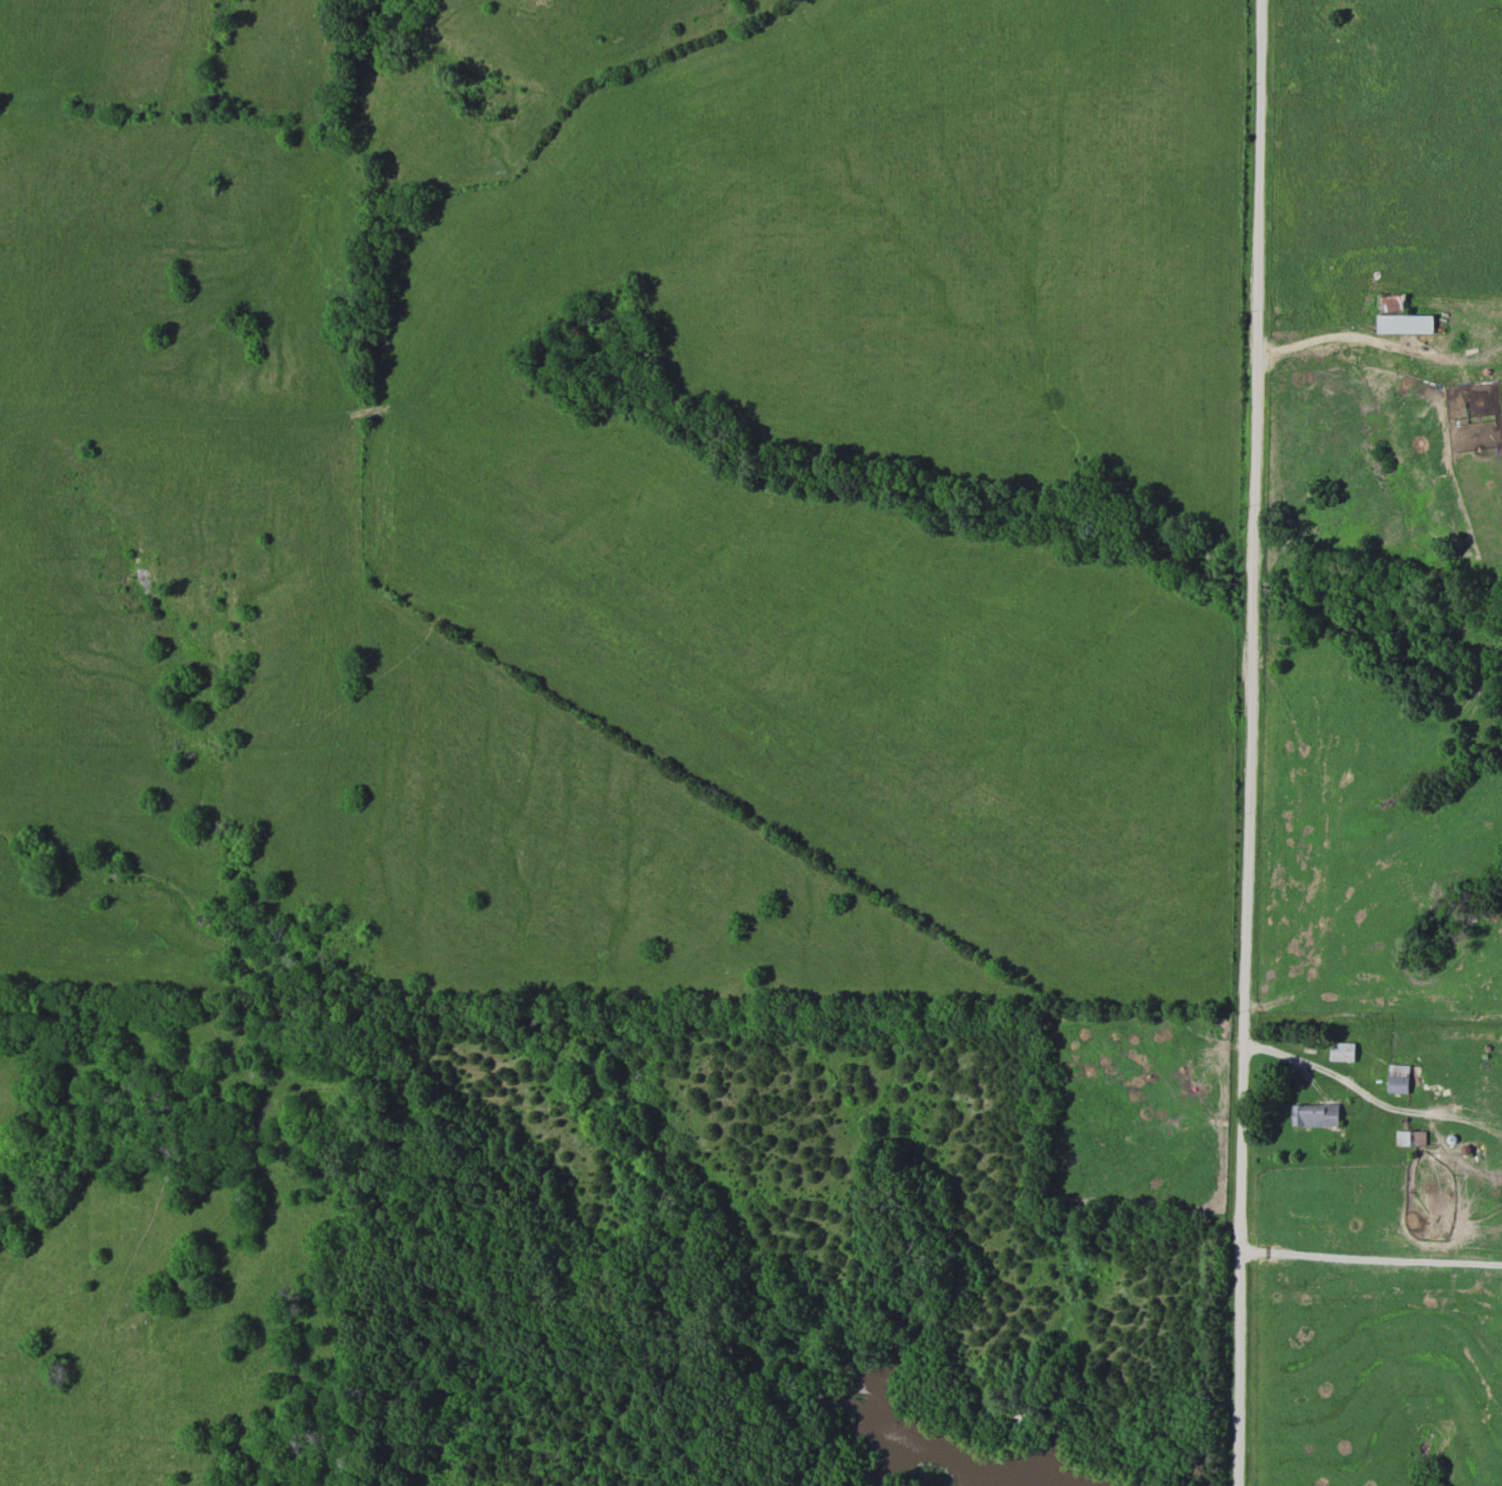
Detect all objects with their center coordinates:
road: (1324, 102)
road: (1314, 247)
building: (1400, 317)
road: (1254, 743)
building: (1343, 1052)
building: (1400, 1079)
road: (1345, 1087)
building: (1316, 1116)
building: (1412, 1140)
road: (1373, 1260)

